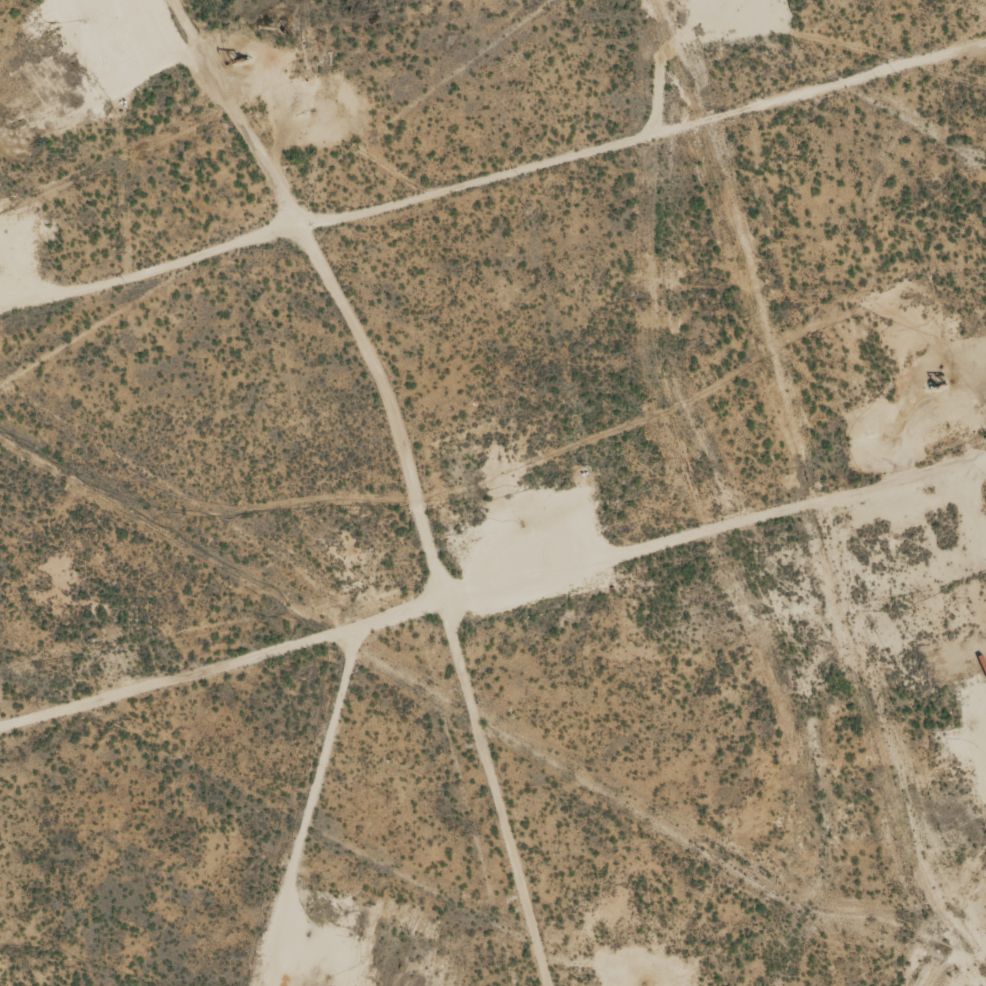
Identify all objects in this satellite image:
road: (492, 224)
road: (275, 317)
road: (493, 621)

